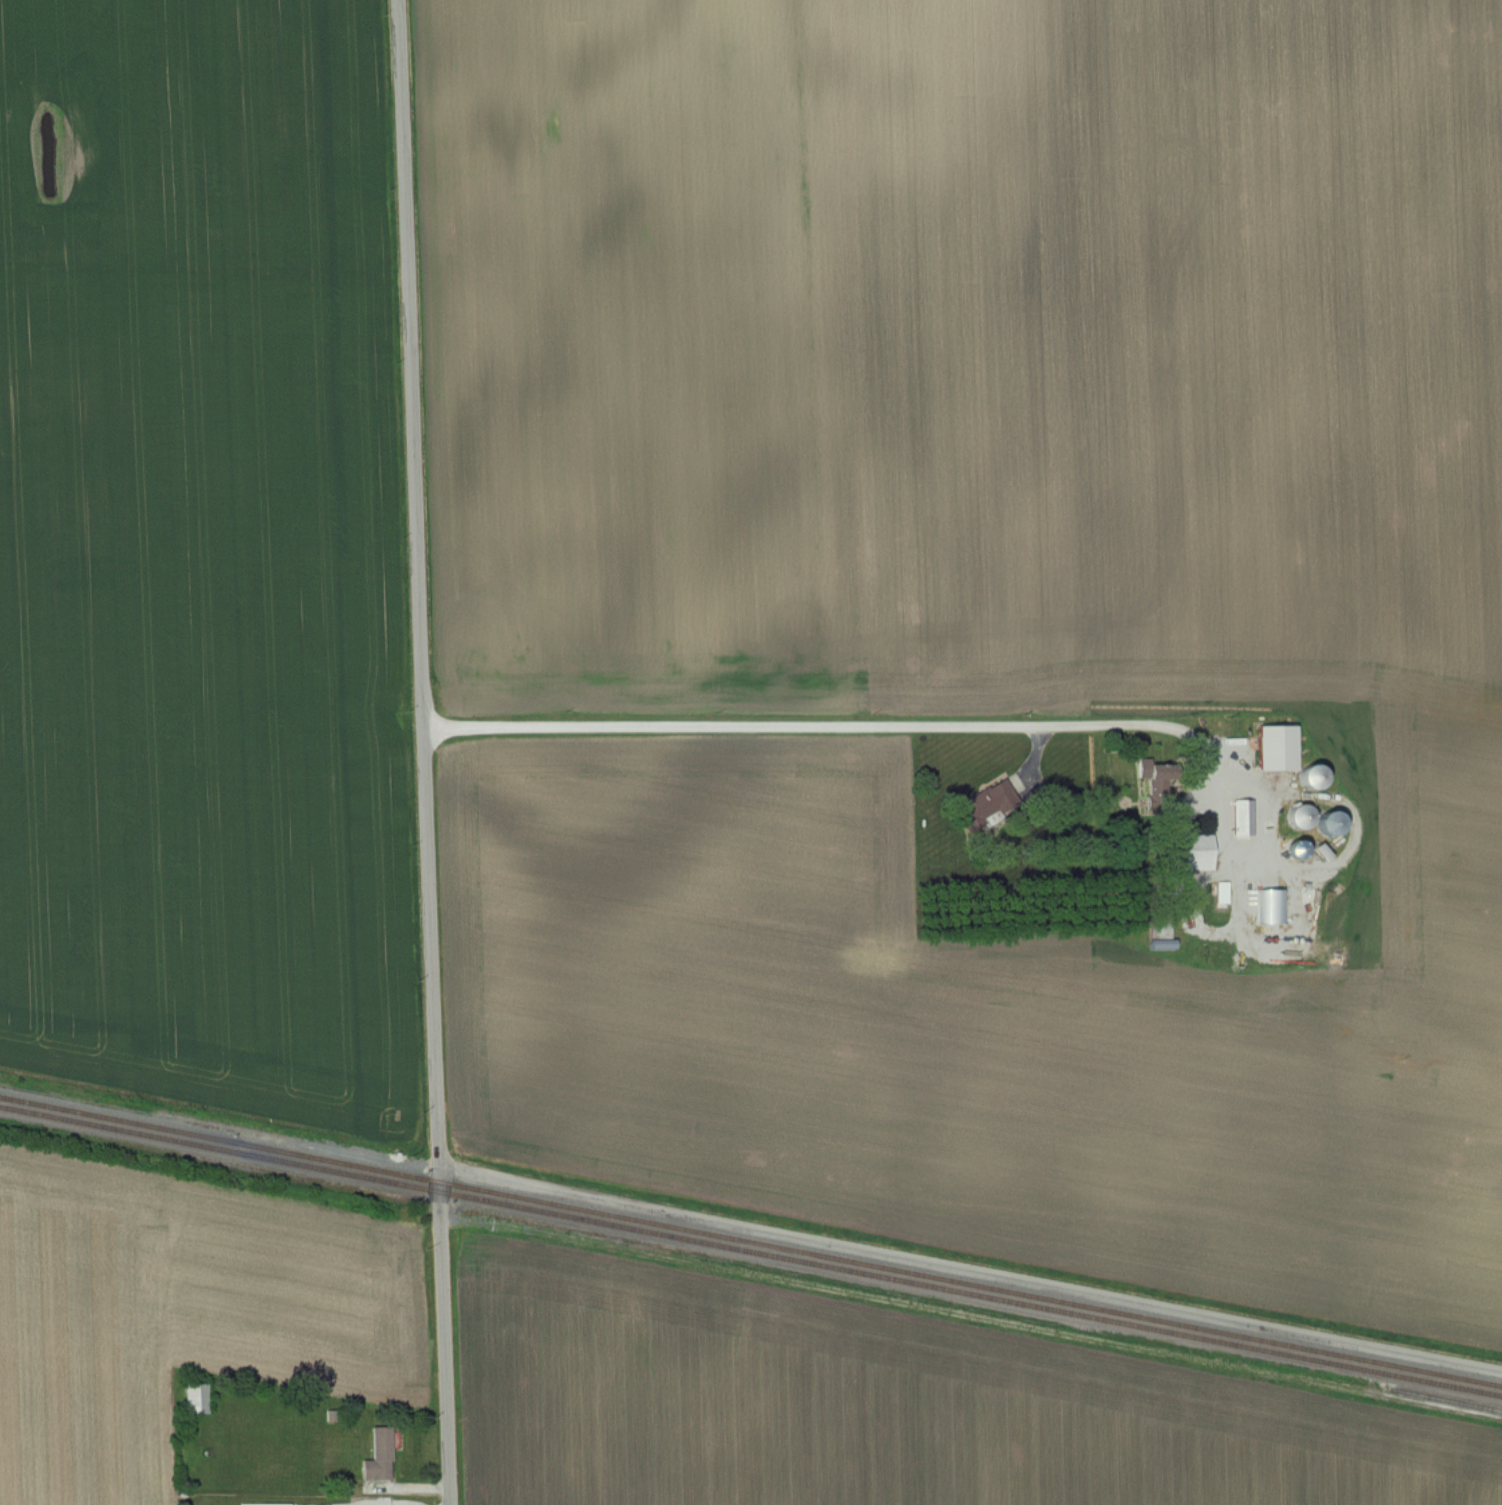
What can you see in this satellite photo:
road: (791, 738)
building: (1278, 748)
road: (422, 752)
building: (1300, 817)
building: (1243, 818)
building: (1330, 824)
building: (1195, 853)
building: (1272, 906)
building: (1160, 931)
railway: (750, 1241)
railway: (750, 1251)
road: (970, 1269)
building: (197, 1398)
building: (380, 1455)
building: (272, 1504)

